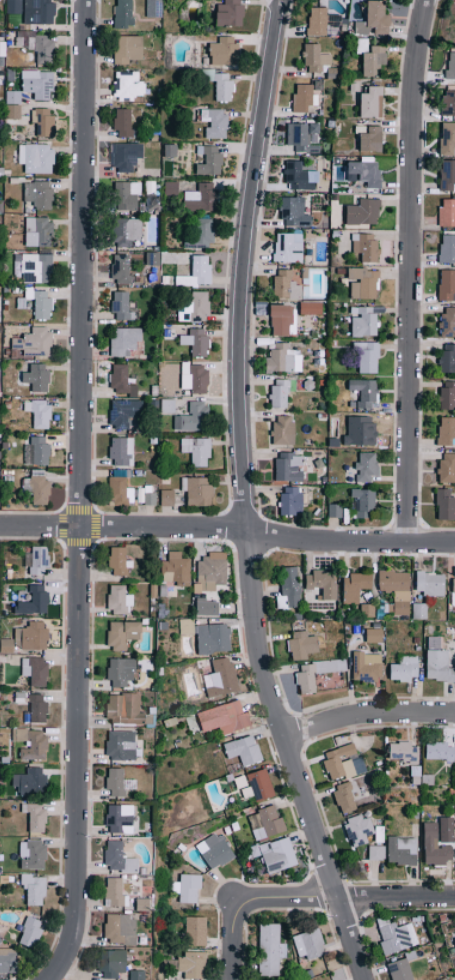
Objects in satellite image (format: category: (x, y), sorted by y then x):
building: (13, 6)
building: (154, 8)
building: (39, 11)
building: (124, 13)
building: (230, 13)
building: (378, 16)
building: (317, 21)
building: (37, 47)
building: (129, 48)
building: (224, 51)
building: (315, 57)
building: (374, 60)
building: (451, 64)
building: (38, 83)
building: (128, 85)
building: (13, 96)
building: (303, 97)
building: (372, 102)
building: (448, 102)
building: (13, 110)
building: (43, 121)
building: (124, 122)
building: (214, 122)
building: (303, 136)
building: (447, 138)
building: (372, 139)
building: (170, 150)
building: (127, 156)
building: (37, 158)
building: (210, 160)
building: (364, 171)
building: (447, 175)
building: (300, 176)
building: (171, 188)
building: (38, 193)
building: (127, 195)
building: (200, 197)
building: (295, 212)
building: (364, 212)
building: (447, 213)
building: (37, 231)
building: (128, 231)
building: (202, 234)
building: (365, 246)
building: (288, 247)
building: (447, 248)
building: (152, 258)
building: (33, 267)
building: (121, 267)
building: (196, 272)
road: (411, 272)
building: (363, 282)
building: (287, 284)
building: (447, 284)
building: (40, 302)
building: (121, 306)
building: (195, 307)
building: (311, 307)
building: (281, 318)
building: (448, 321)
building: (35, 341)
building: (125, 341)
building: (196, 341)
building: (367, 356)
building: (284, 358)
building: (447, 359)
building: (37, 377)
building: (195, 378)
building: (121, 380)
building: (280, 392)
building: (365, 392)
building: (448, 394)
building: (167, 406)
building: (39, 413)
building: (127, 413)
building: (193, 417)
building: (284, 429)
building: (361, 430)
building: (446, 430)
building: (36, 450)
building: (197, 450)
building: (122, 451)
building: (367, 466)
building: (289, 467)
building: (447, 467)
building: (120, 487)
building: (36, 488)
building: (198, 490)
road: (80, 493)
building: (146, 495)
building: (167, 497)
road: (244, 497)
building: (292, 500)
building: (364, 502)
building: (445, 504)
building: (335, 510)
road: (228, 532)
building: (37, 559)
building: (120, 562)
building: (177, 568)
building: (212, 570)
building: (323, 582)
building: (430, 583)
building: (355, 586)
building: (289, 588)
building: (396, 589)
building: (453, 589)
building: (37, 598)
building: (119, 599)
building: (208, 607)
building: (419, 610)
building: (186, 626)
building: (124, 633)
building: (374, 635)
building: (27, 638)
building: (213, 638)
building: (303, 645)
building: (438, 661)
building: (366, 667)
building: (405, 669)
building: (35, 670)
building: (122, 671)
building: (316, 672)
building: (221, 677)
building: (37, 708)
building: (125, 708)
building: (225, 717)
road: (366, 718)
building: (32, 743)
building: (121, 745)
building: (244, 750)
building: (404, 751)
building: (440, 751)
building: (343, 762)
building: (421, 777)
building: (33, 781)
building: (116, 782)
building: (259, 785)
building: (345, 798)
building: (35, 816)
building: (120, 818)
building: (266, 823)
building: (358, 830)
building: (215, 850)
building: (402, 850)
building: (438, 851)
building: (376, 852)
building: (32, 854)
building: (278, 855)
building: (119, 858)
building: (188, 887)
building: (34, 888)
building: (114, 891)
road: (344, 899)
building: (121, 929)
building: (195, 931)
building: (31, 932)
building: (394, 936)
building: (454, 938)
road: (233, 939)
building: (309, 944)
building: (270, 949)
building: (8, 959)
building: (114, 963)
building: (190, 964)
building: (400, 970)
building: (136, 975)

